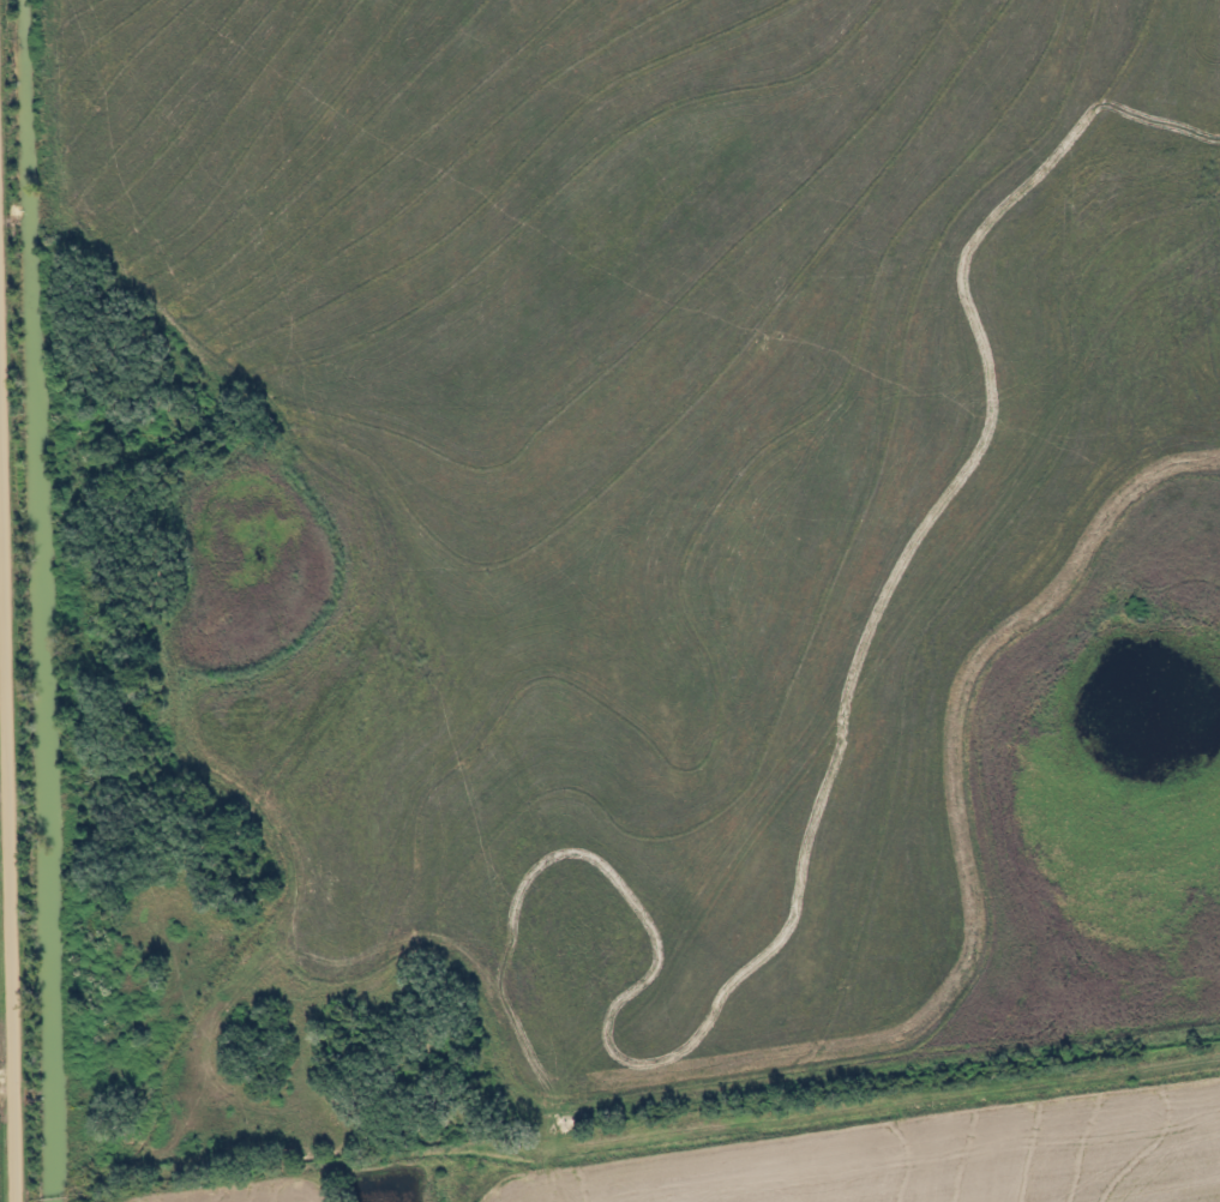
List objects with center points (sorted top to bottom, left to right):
road: (5, 244)
road: (7, 600)
road: (7, 1088)
road: (857, 1094)

